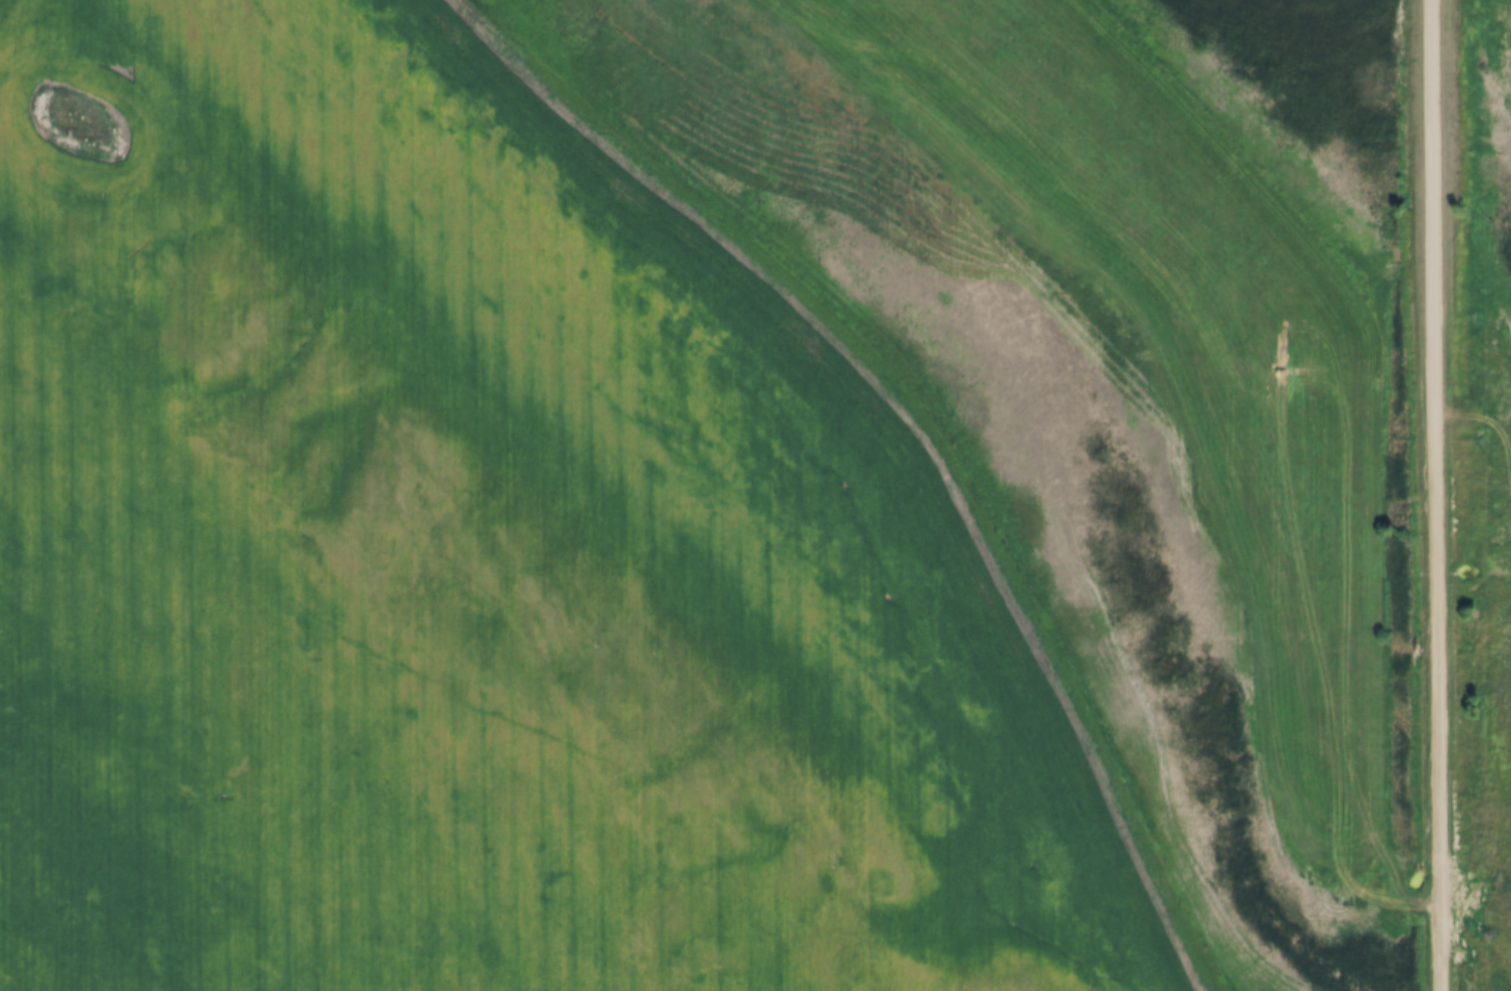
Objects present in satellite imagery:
road: (1431, 495)

